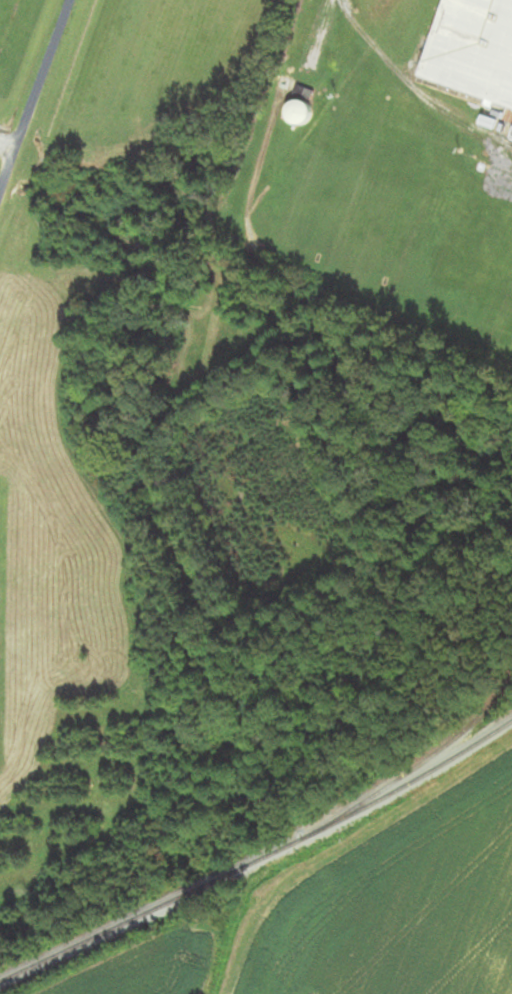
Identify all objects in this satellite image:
building: (475, 49)
building: (300, 112)
railway: (449, 742)
railway: (258, 856)

